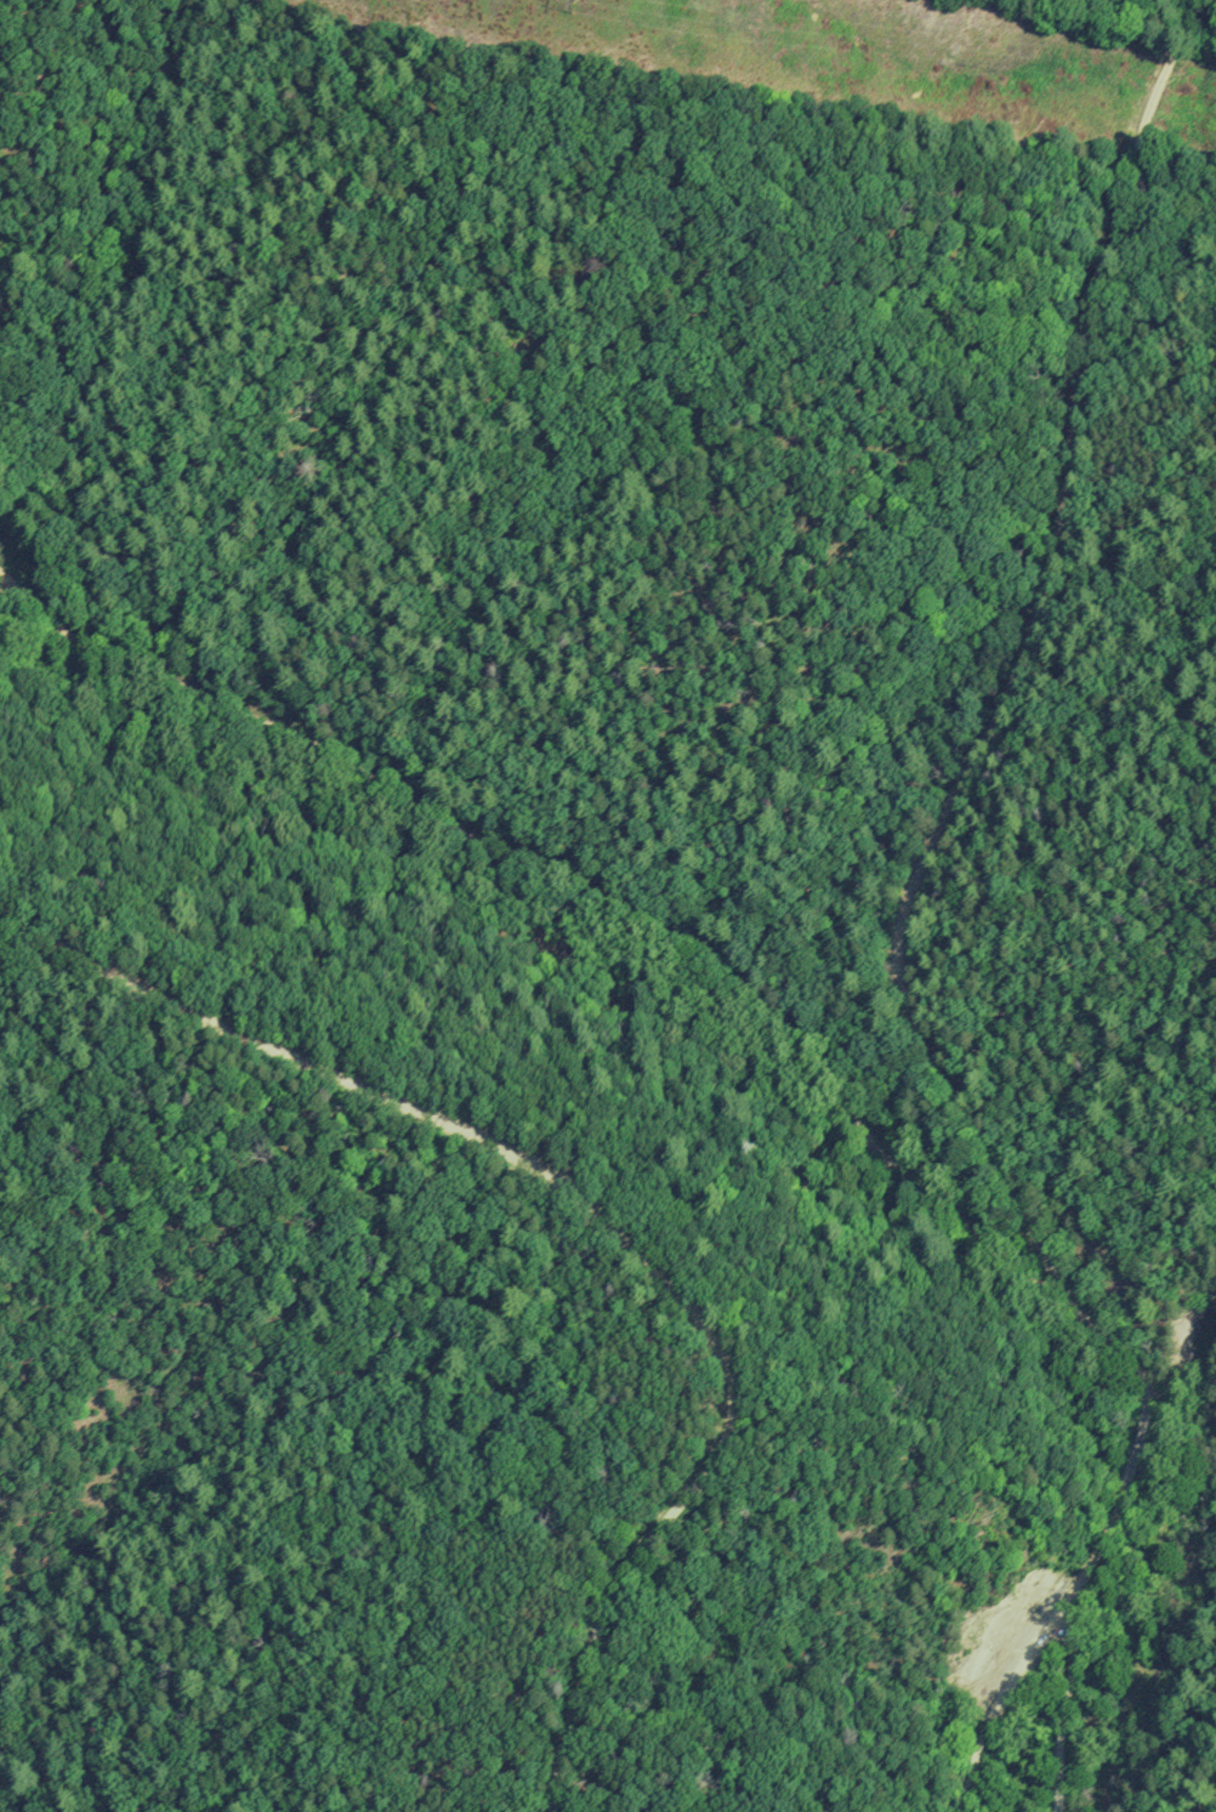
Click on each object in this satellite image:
power tower: (575, 7)
road: (570, 884)
road: (903, 921)
road: (606, 1222)
road: (999, 1703)

